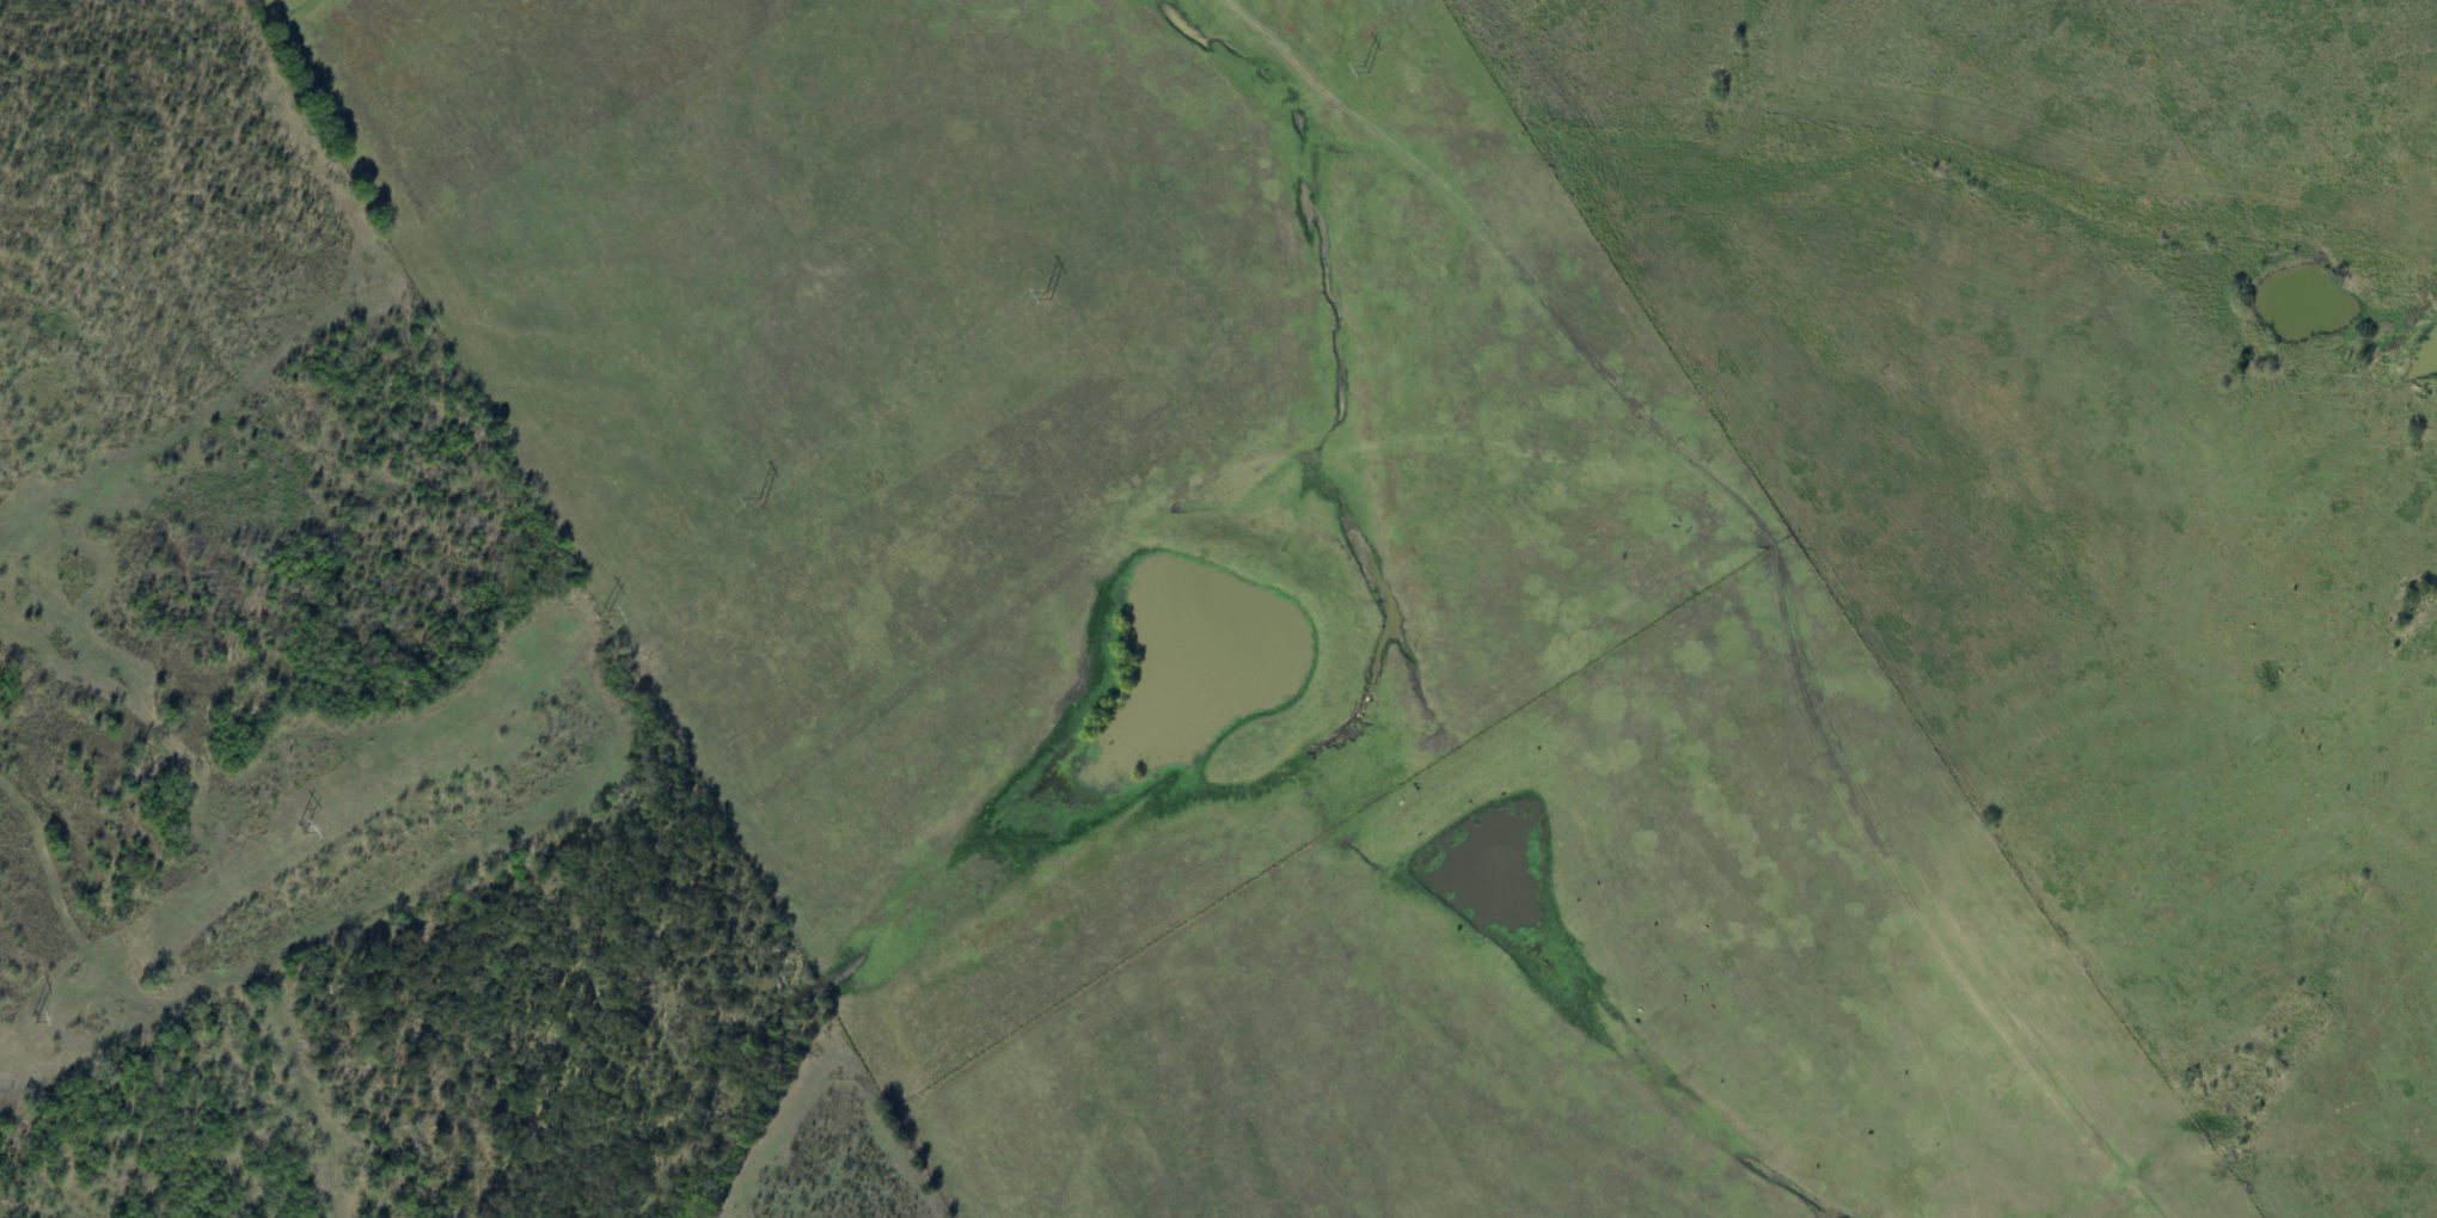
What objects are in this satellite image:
power tower: (1366, 67)
power tower: (1046, 298)
power tower: (763, 502)
power tower: (607, 612)
power tower: (301, 828)
power tower: (36, 1017)

